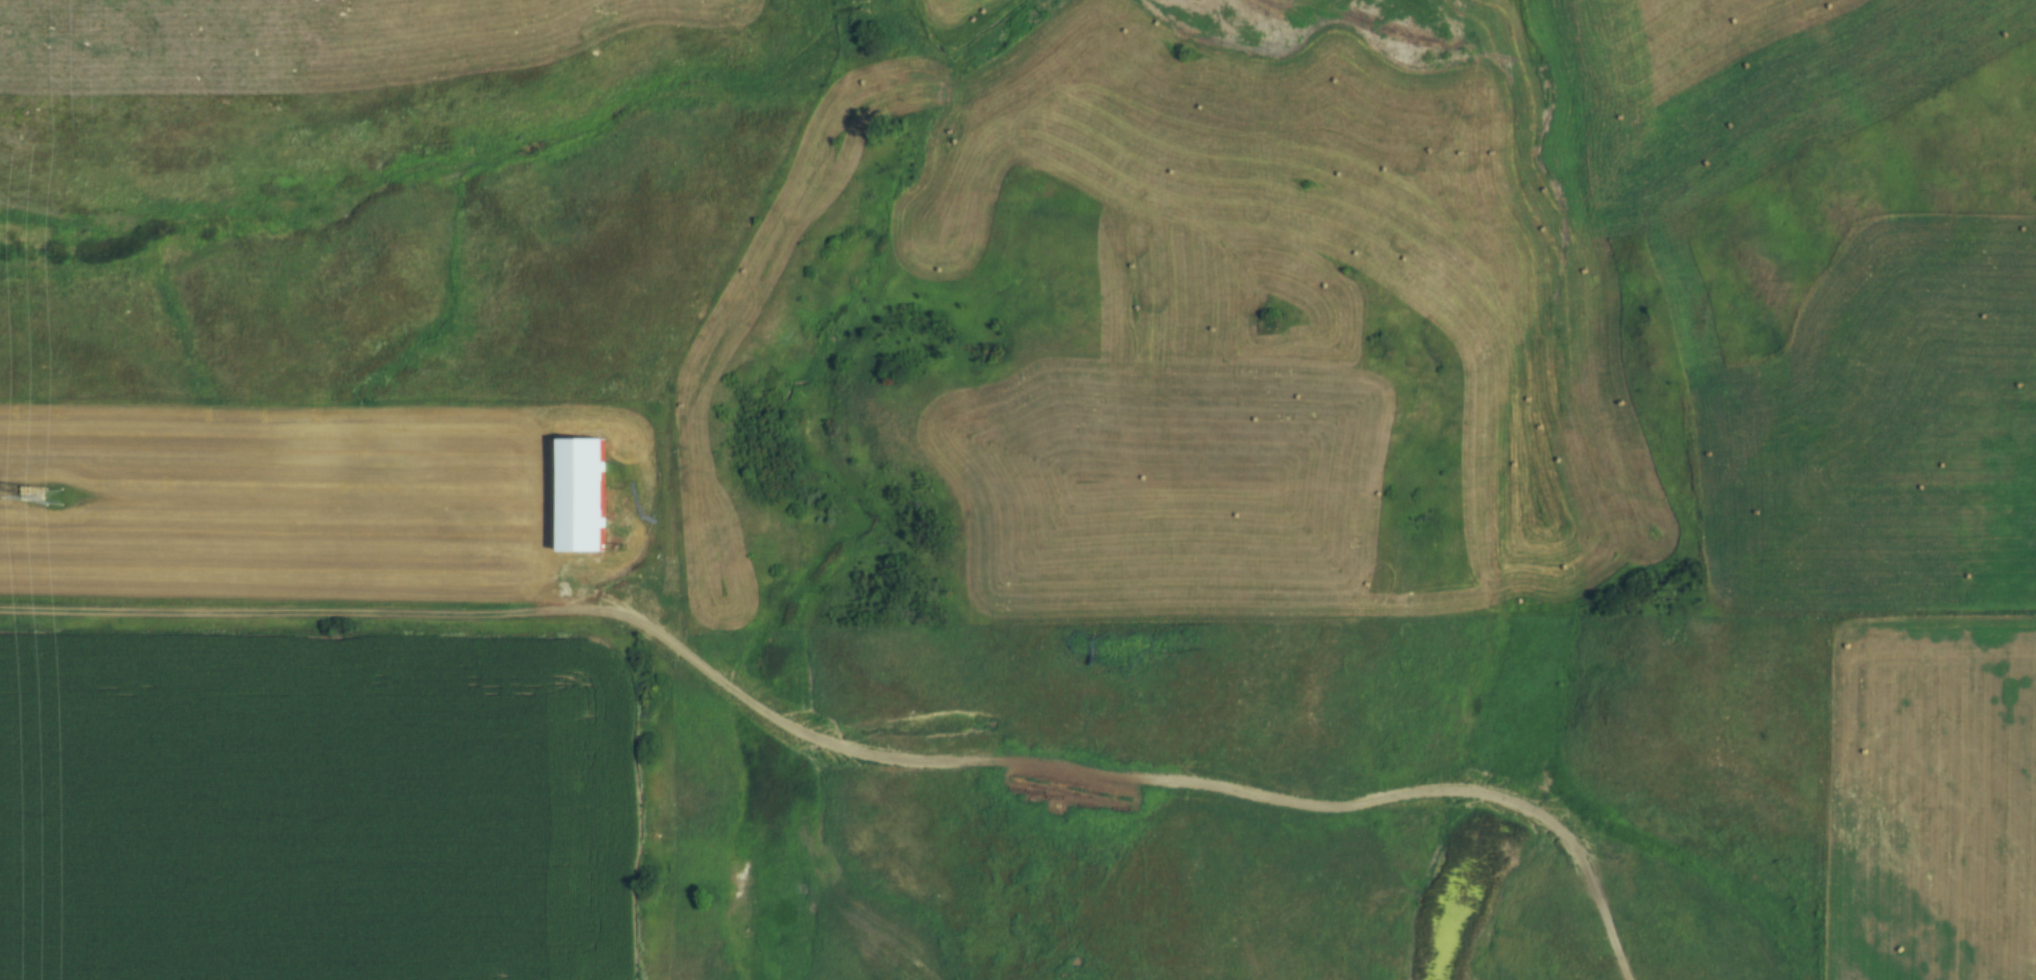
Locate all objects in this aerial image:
power tower: (47, 495)
road: (302, 616)

